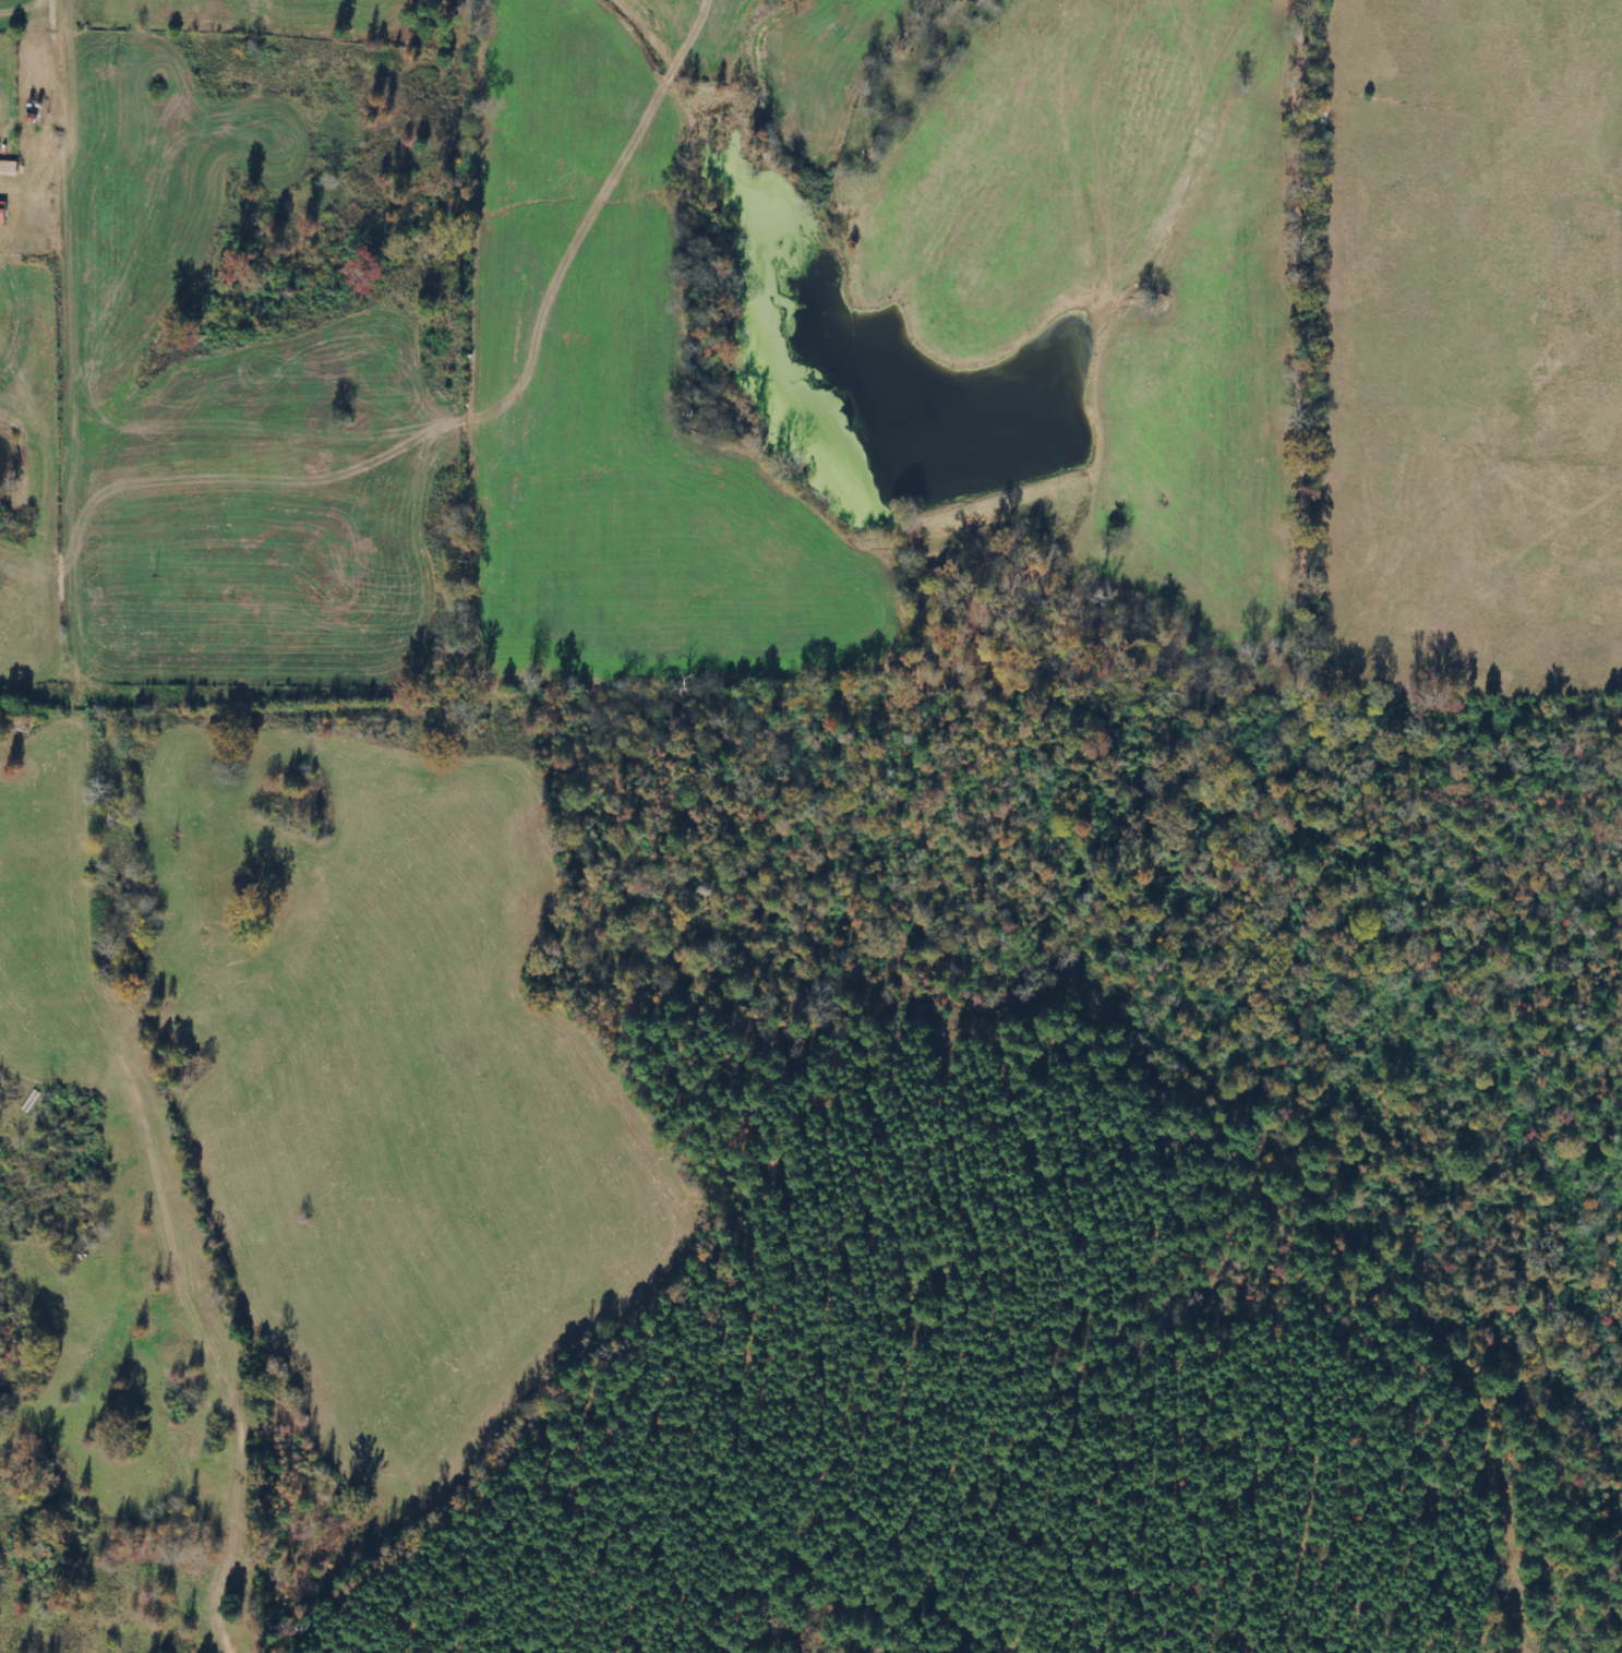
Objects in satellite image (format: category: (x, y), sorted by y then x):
building: (3, 212)

